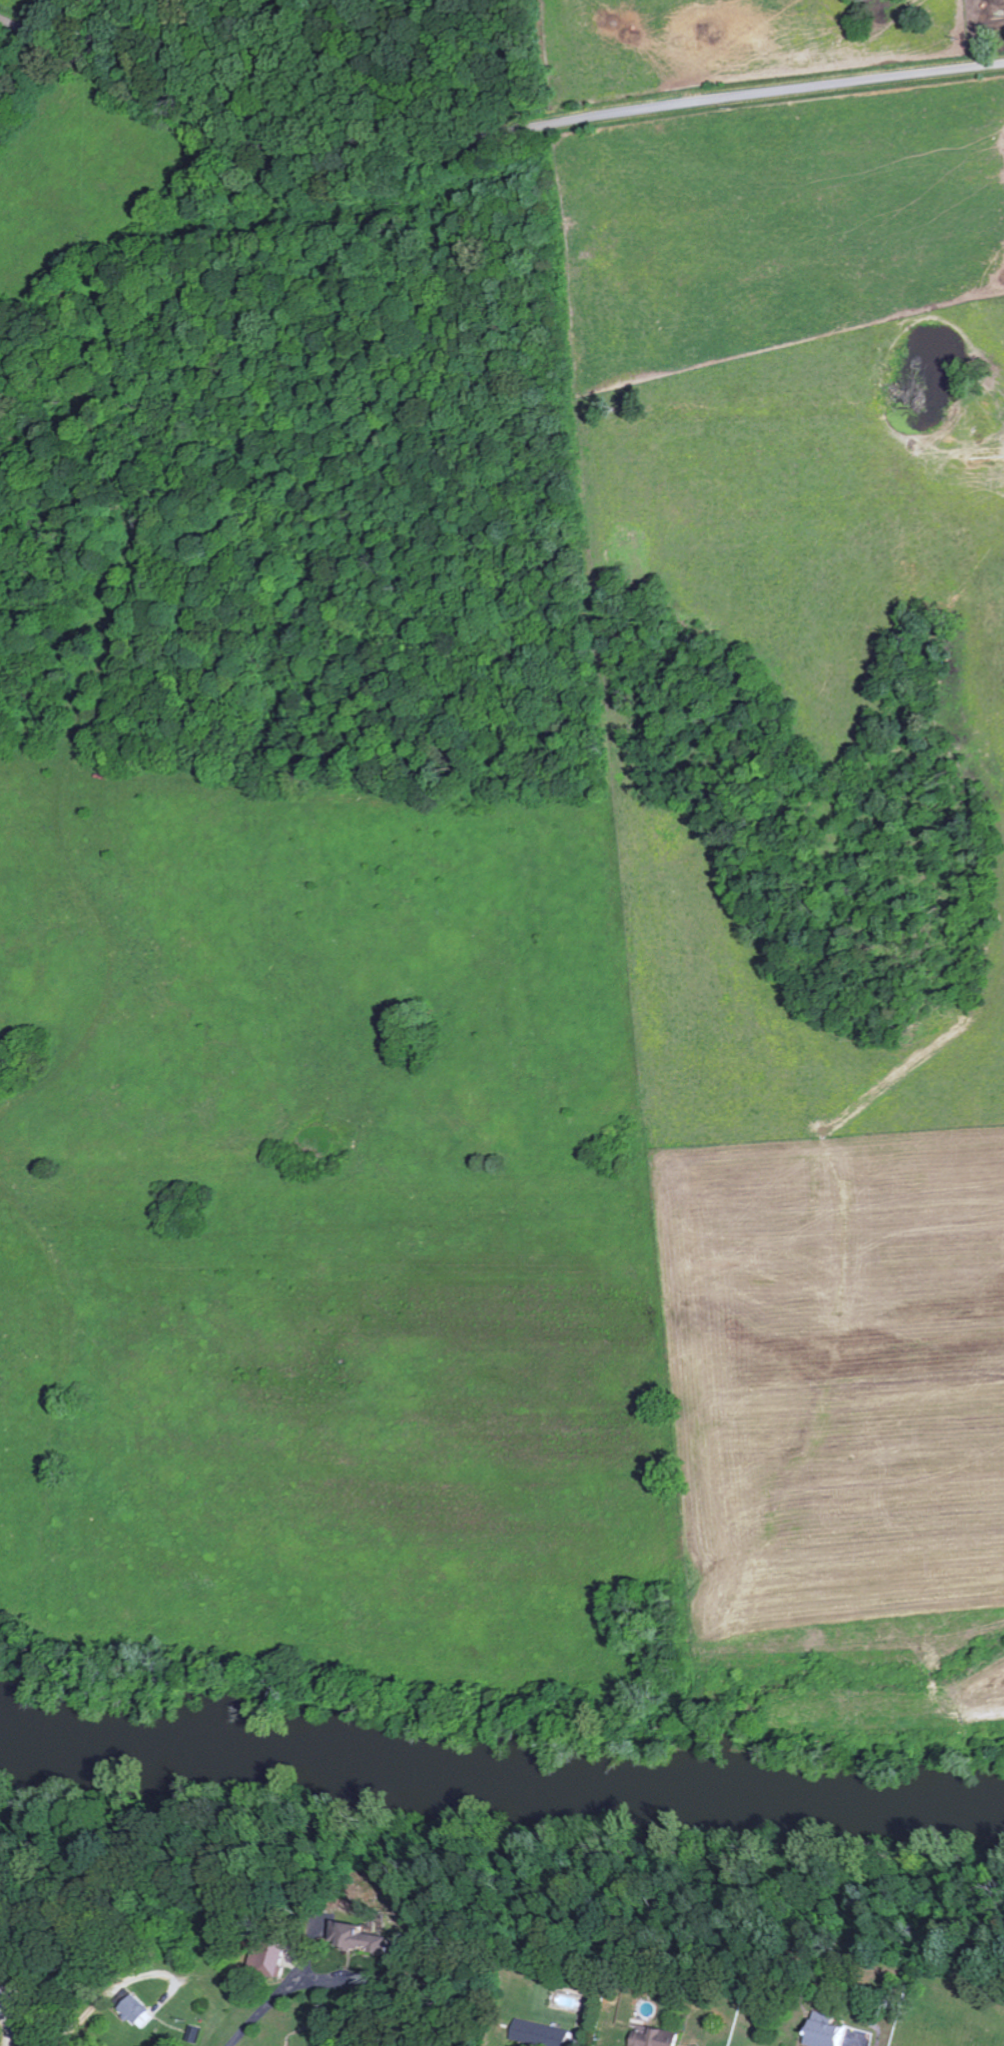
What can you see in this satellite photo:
road: (20, 63)
road: (489, 130)
river: (500, 1816)
building: (351, 1938)
road: (263, 2008)
building: (136, 2009)
road: (85, 2014)
road: (12, 2021)
building: (819, 2031)
building: (536, 2033)
building: (649, 2038)
building: (623, 2045)

